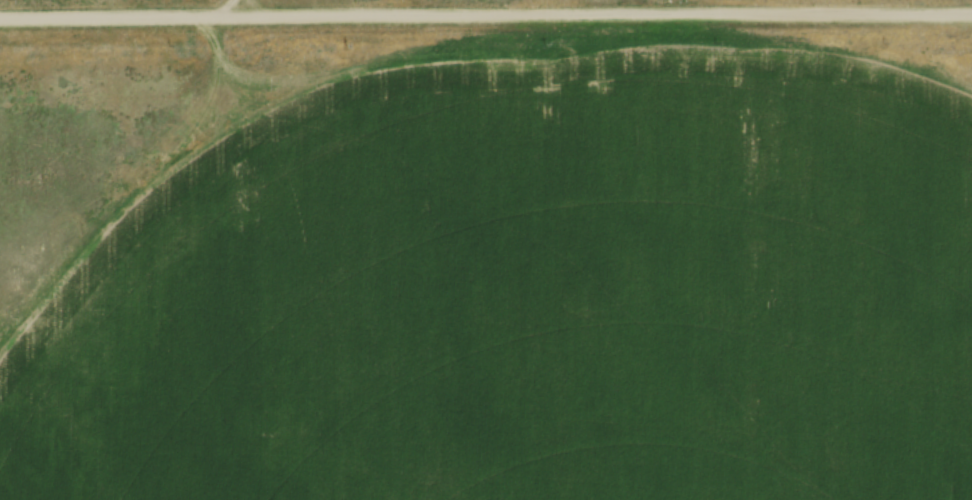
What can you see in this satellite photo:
road: (234, 8)
road: (485, 14)

